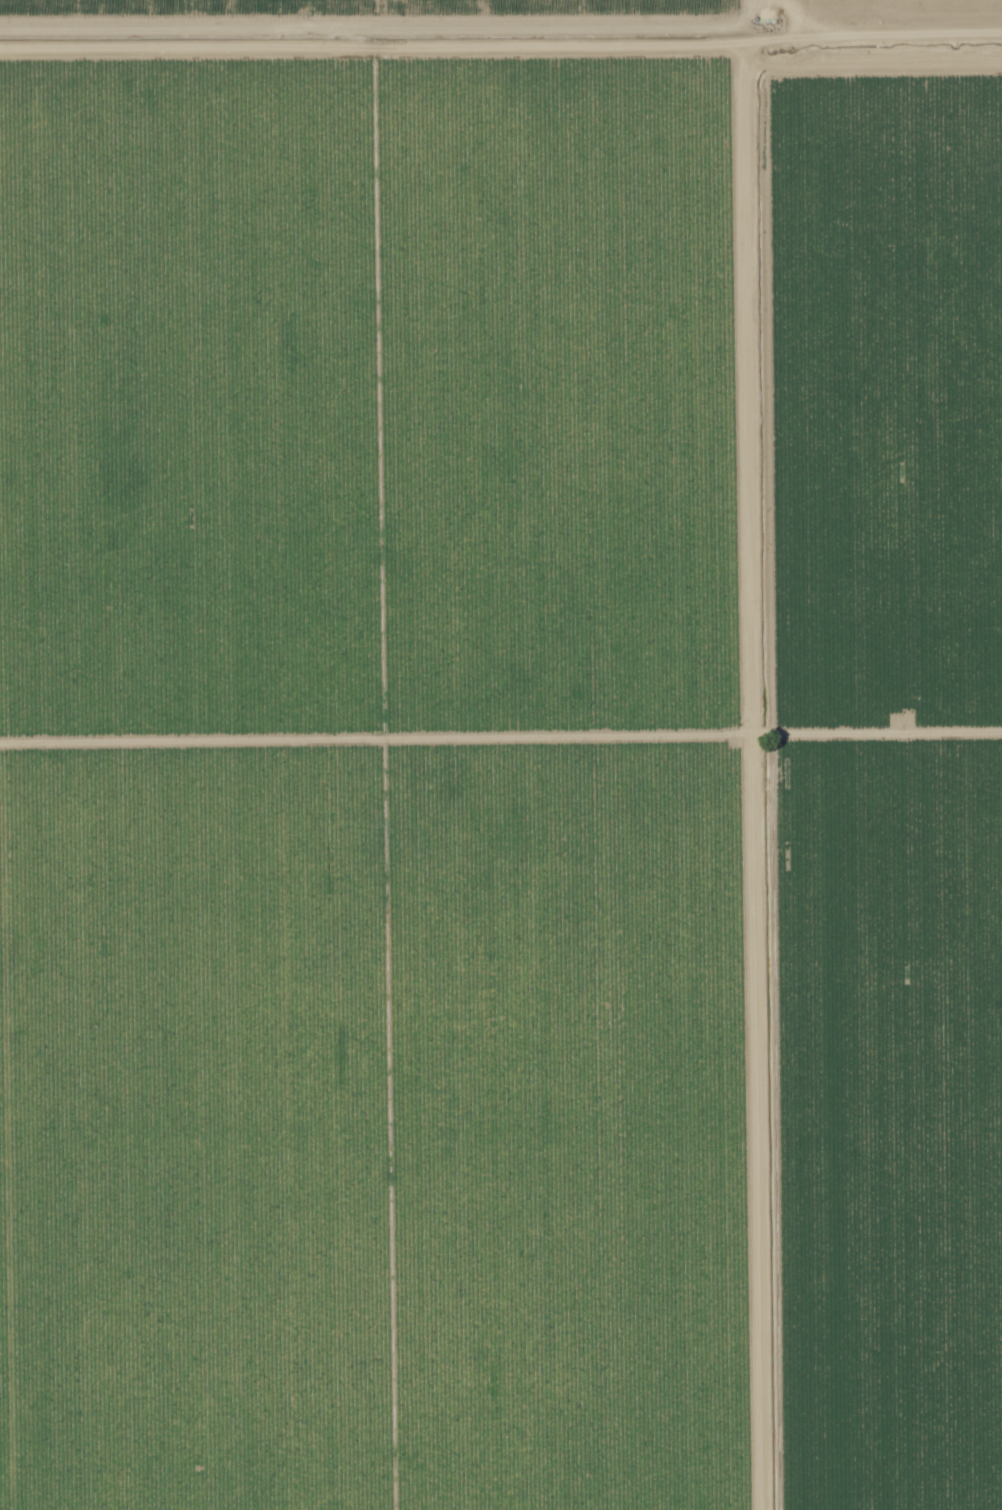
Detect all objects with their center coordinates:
crop: (371, 27)
crop: (876, 27)
crop: (501, 782)

